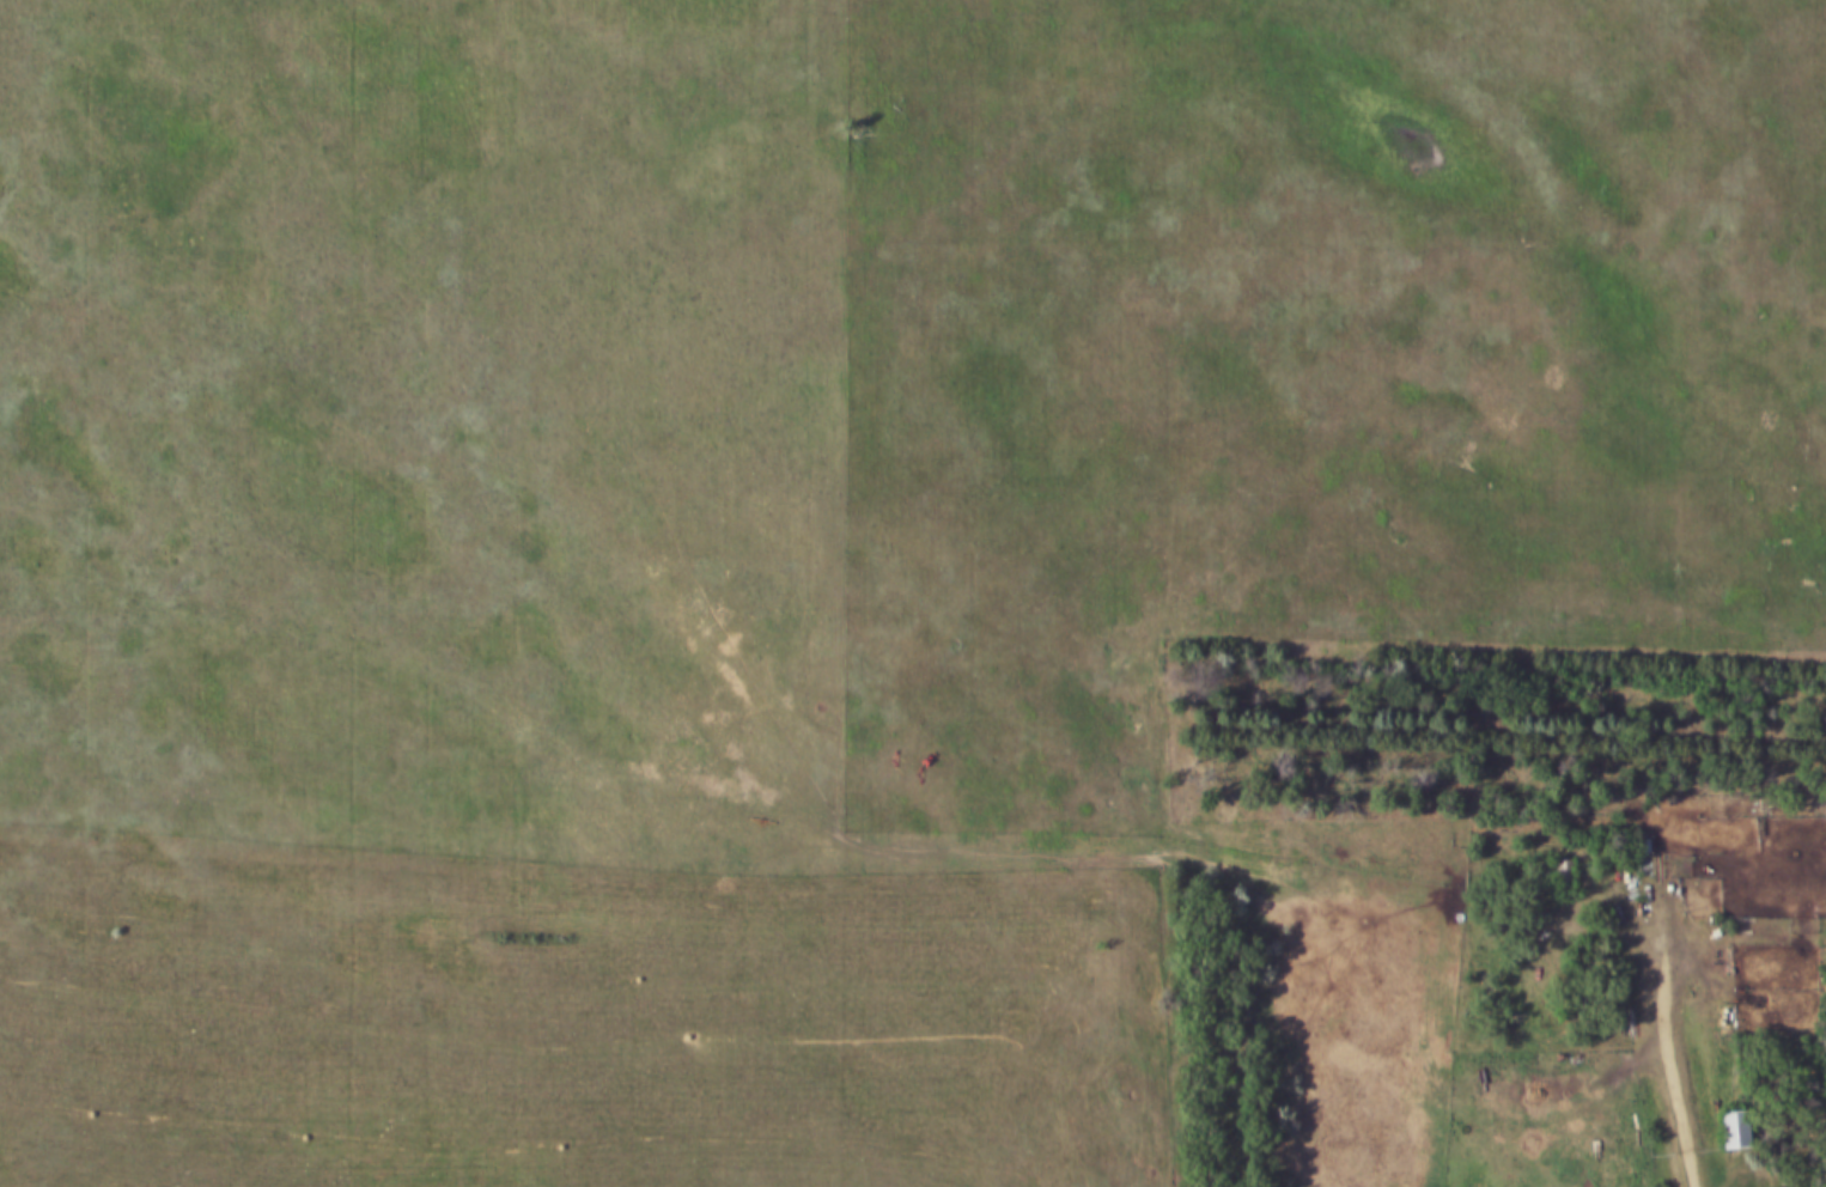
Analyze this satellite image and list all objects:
building: (1668, 834)
building: (1556, 873)
road: (1663, 1037)
building: (1731, 1128)

